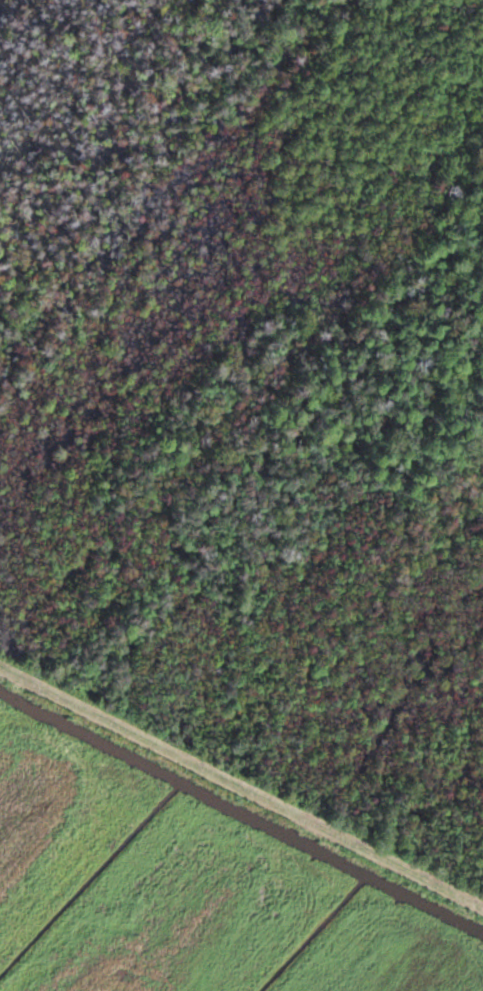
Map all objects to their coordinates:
road: (241, 789)

